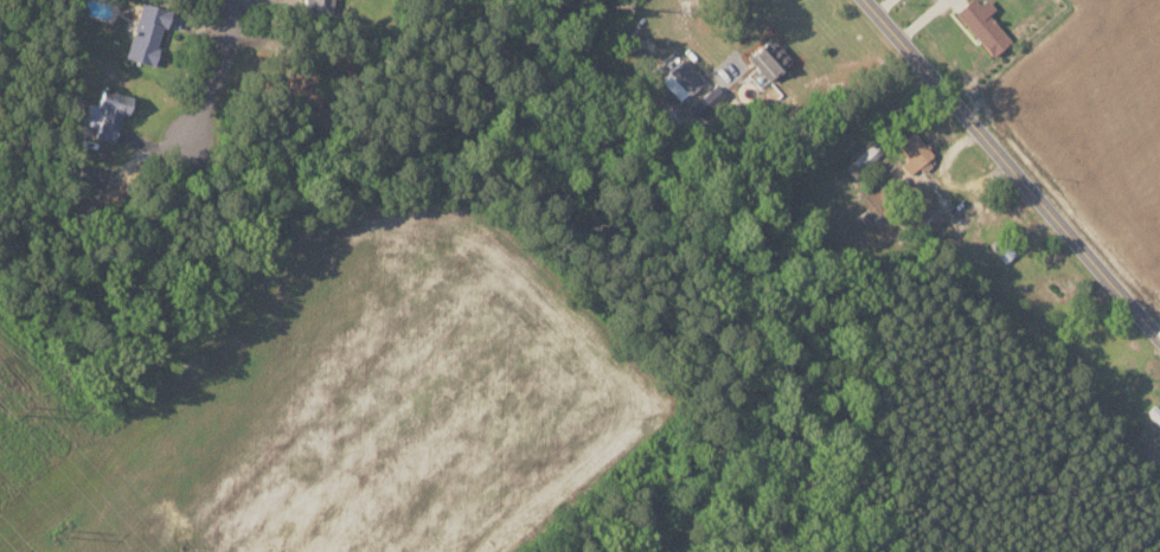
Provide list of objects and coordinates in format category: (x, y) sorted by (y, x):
building: (318, 6)
building: (983, 26)
building: (147, 33)
building: (768, 60)
road: (212, 76)
building: (681, 79)
building: (105, 116)
building: (916, 152)
building: (865, 158)
road: (1013, 167)
building: (1002, 248)
power tower: (19, 410)
power tower: (64, 529)

